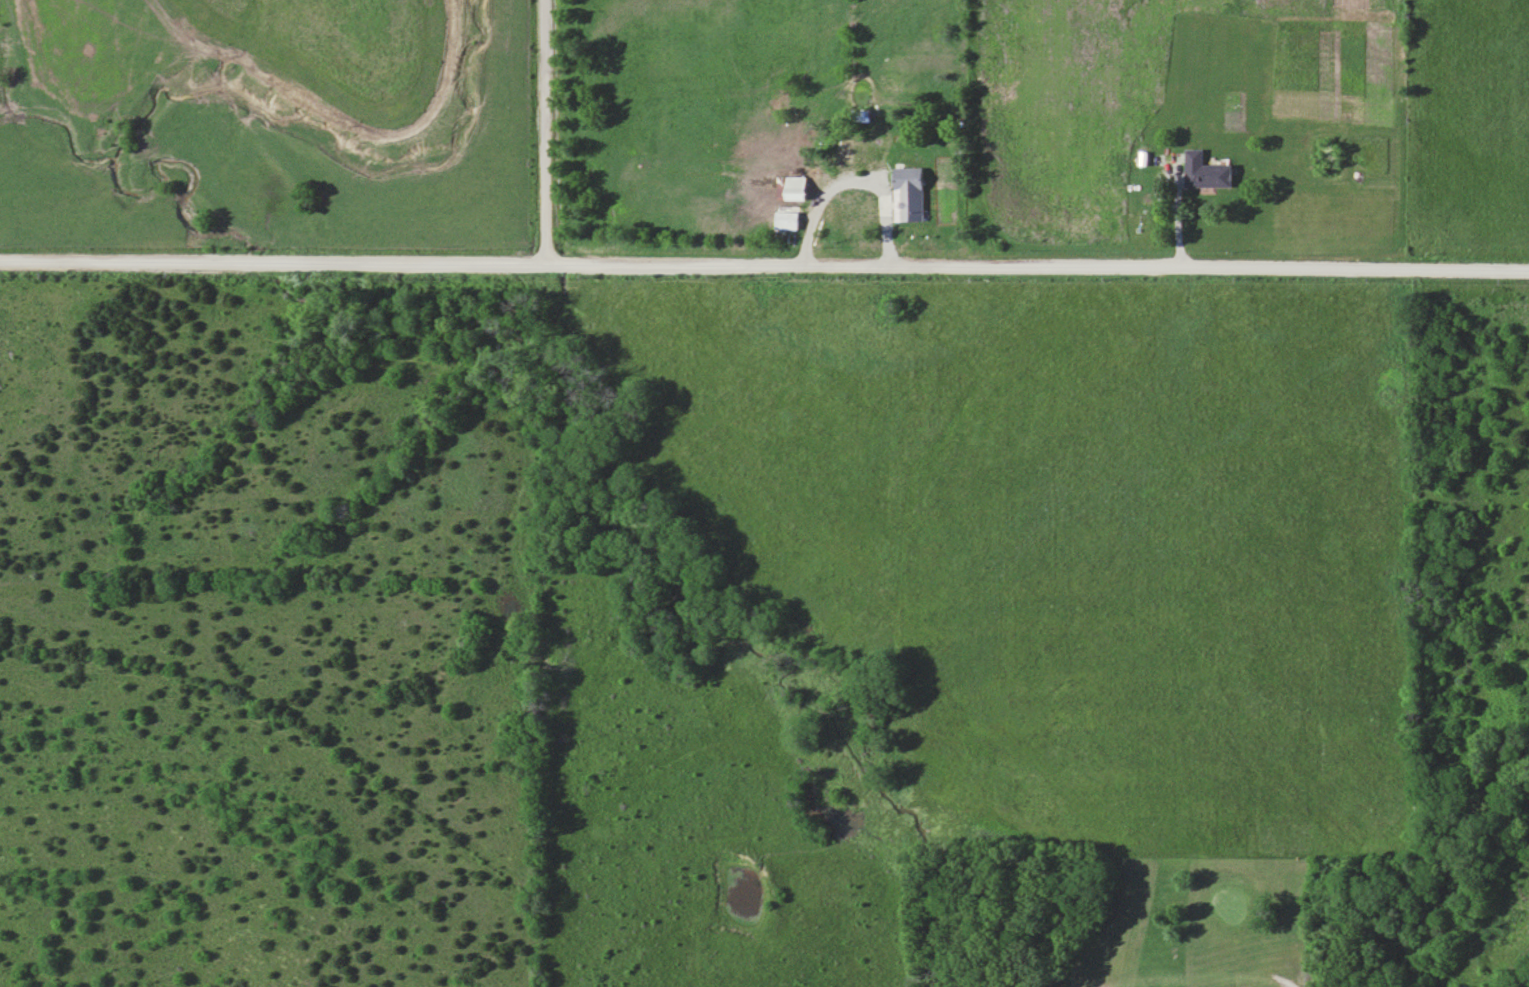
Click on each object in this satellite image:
building: (858, 116)
road: (539, 134)
building: (1201, 172)
building: (788, 188)
building: (860, 198)
building: (782, 220)
road: (764, 270)
road: (1233, 974)

